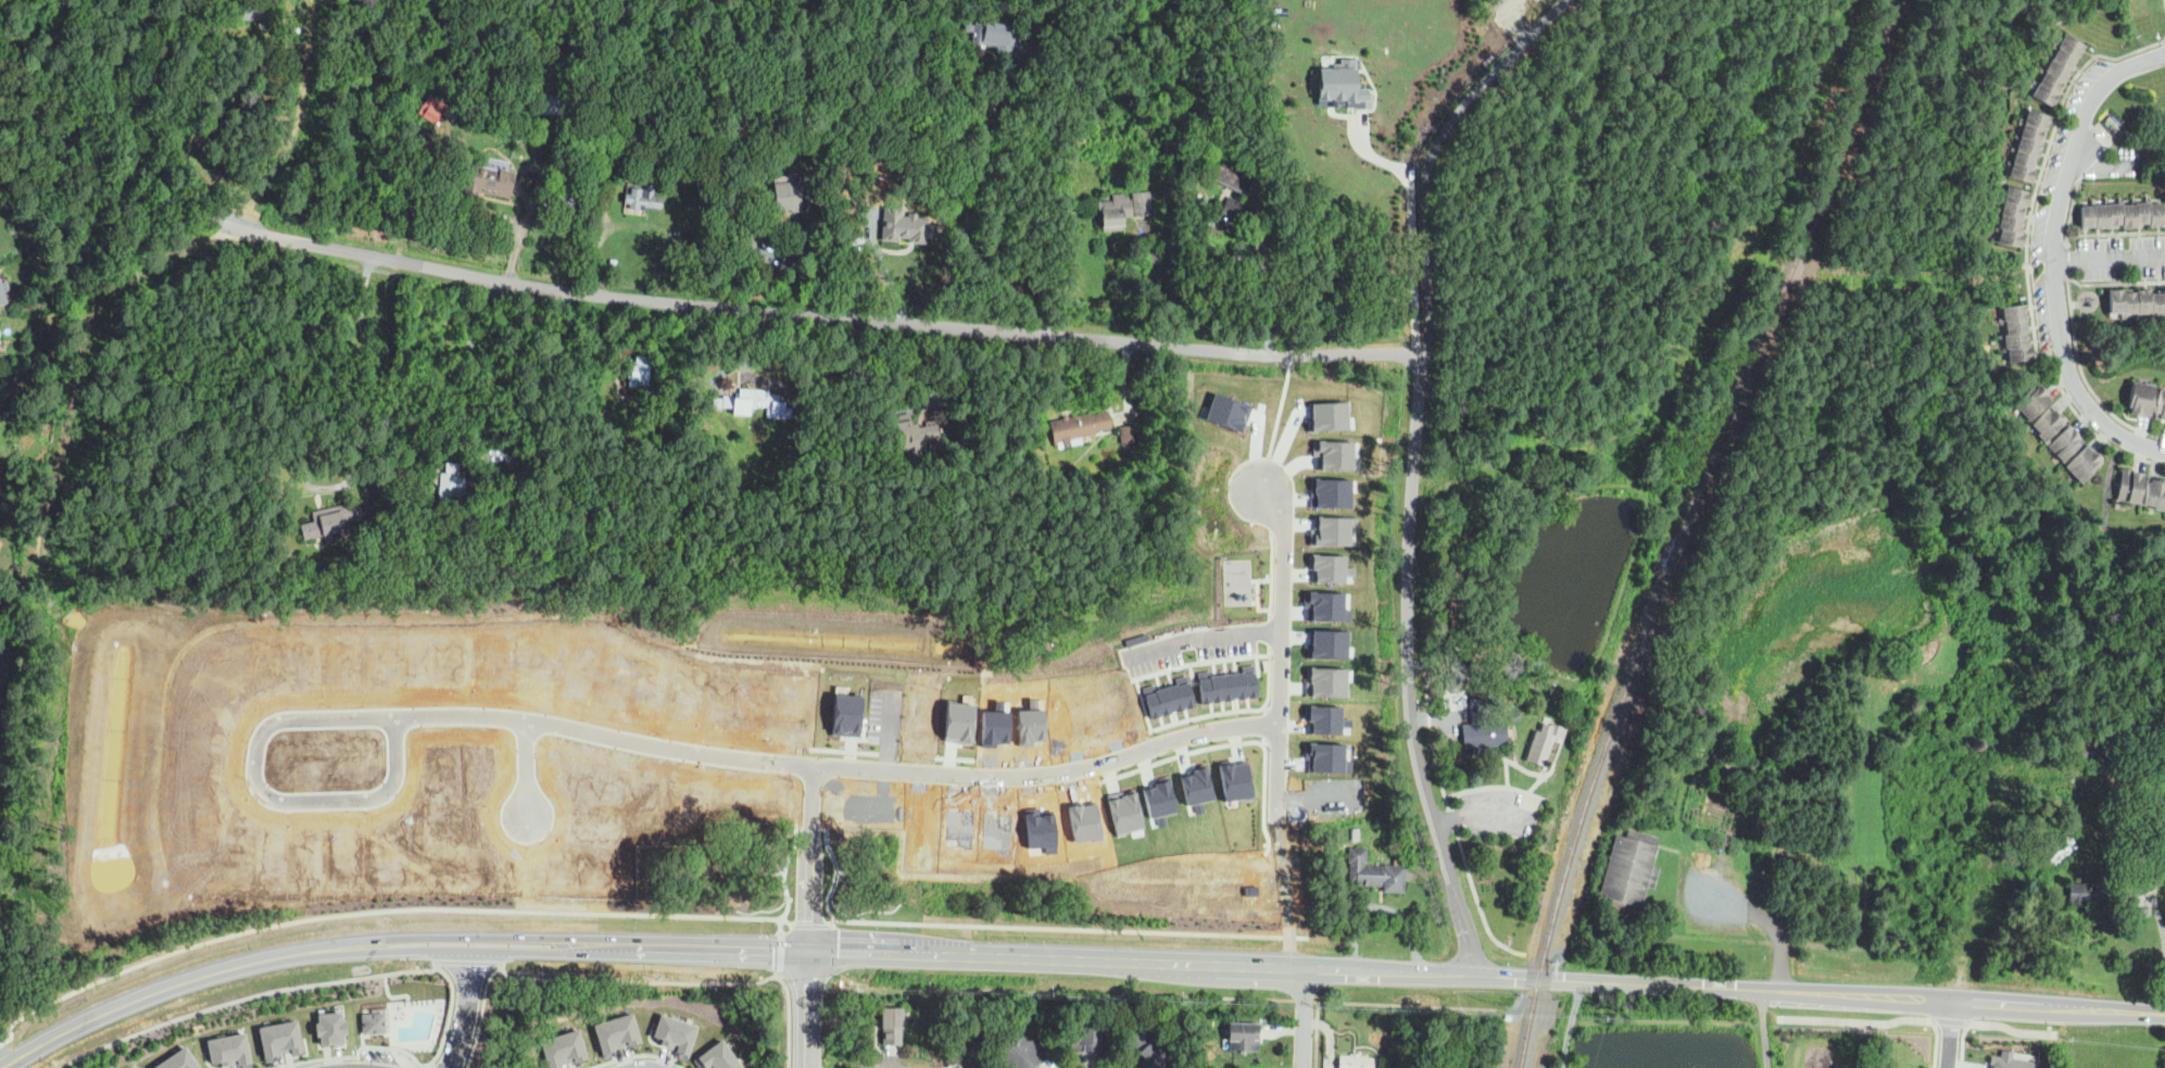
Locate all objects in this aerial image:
building: (255, 10)
building: (993, 36)
road: (2164, 39)
building: (252, 45)
building: (562, 46)
street lamp: (2135, 47)
building: (2056, 67)
building: (269, 71)
road: (1462, 78)
building: (1336, 84)
building: (554, 103)
building: (433, 111)
building: (465, 111)
building: (603, 127)
building: (731, 142)
building: (2027, 145)
road: (219, 153)
building: (629, 153)
road: (1430, 154)
road: (2104, 166)
building: (490, 177)
building: (1232, 177)
street lamp: (2084, 184)
road: (113, 192)
building: (786, 193)
road: (537, 194)
road: (966, 197)
building: (643, 198)
road: (2073, 204)
road: (597, 211)
building: (1230, 214)
building: (1109, 215)
building: (2011, 215)
building: (2123, 215)
building: (563, 221)
road: (1411, 222)
building: (908, 224)
building: (751, 239)
road: (2027, 252)
road: (2056, 252)
road: (2110, 256)
road: (2066, 259)
road: (814, 263)
street lamp: (2130, 267)
road: (1161, 281)
road: (2114, 281)
street lamp: (2027, 290)
building: (2, 296)
road: (1268, 301)
building: (2138, 301)
road: (821, 314)
building: (2016, 332)
building: (639, 370)
road: (482, 373)
road: (2085, 377)
road: (369, 378)
building: (2141, 398)
building: (2031, 401)
building: (758, 403)
building: (2161, 403)
street lamp: (2110, 404)
building: (1230, 409)
building: (1335, 411)
building: (2048, 422)
road: (1277, 423)
building: (1080, 426)
building: (1129, 434)
building: (917, 436)
building: (2065, 442)
building: (37, 452)
building: (1337, 454)
building: (2084, 462)
building: (1543, 463)
road: (1832, 477)
road: (2109, 481)
road: (1452, 482)
building: (451, 483)
building: (2130, 485)
building: (1331, 492)
building: (2155, 492)
building: (331, 520)
railway: (1690, 527)
building: (1330, 530)
building: (1449, 531)
building: (1494, 551)
building: (1326, 567)
building: (1325, 605)
road: (1408, 621)
road: (1199, 634)
building: (1321, 641)
road: (1281, 650)
building: (528, 661)
building: (566, 669)
building: (1219, 678)
building: (1321, 678)
building: (607, 679)
building: (1161, 691)
building: (677, 692)
building: (713, 694)
building: (750, 702)
building: (1093, 705)
building: (838, 707)
building: (912, 709)
building: (1059, 714)
building: (1320, 714)
building: (1514, 716)
building: (952, 717)
building: (989, 720)
building: (1025, 720)
building: (1482, 728)
road: (635, 740)
building: (1543, 745)
building: (1321, 752)
building: (476, 763)
building: (433, 765)
road: (520, 766)
building: (1230, 777)
building: (594, 780)
building: (1191, 783)
street lamp: (1494, 784)
building: (1155, 796)
building: (1120, 811)
road: (1481, 813)
building: (1080, 818)
building: (597, 821)
building: (918, 822)
building: (956, 827)
building: (1035, 827)
building: (991, 828)
street lamp: (1494, 837)
building: (1393, 841)
road: (810, 856)
building: (466, 859)
building: (577, 862)
building: (1895, 867)
building: (1629, 869)
road: (523, 870)
building: (1374, 872)
building: (1247, 888)
building: (2088, 891)
road: (1285, 893)
road: (393, 921)
road: (1770, 926)
road: (1050, 927)
road: (1465, 928)
road: (545, 937)
road: (545, 952)
road: (968, 955)
road: (468, 962)
road: (1217, 964)
road: (1364, 970)
road: (1447, 973)
road: (651, 980)
road: (1817, 993)
road: (1199, 996)
road: (246, 997)
road: (135, 998)
road: (1304, 1000)
road: (1405, 1004)
road: (1534, 1007)
road: (808, 1008)
road: (465, 1009)
road: (480, 1014)
building: (1508, 1017)
road: (790, 1018)
road: (1306, 1018)
road: (1673, 1018)
building: (374, 1020)
road: (1950, 1020)
road: (1855, 1021)
road: (1569, 1023)
building: (330, 1026)
building: (891, 1027)
road: (1762, 1029)
road: (2012, 1029)
building: (618, 1032)
building: (676, 1032)
road: (1317, 1034)
road: (1951, 1034)
building: (280, 1035)
building: (1085, 1038)
building: (1243, 1038)
building: (1149, 1047)
building: (564, 1048)
road: (402, 1050)
building: (228, 1051)
building: (1021, 1052)
road: (634, 1055)
parking lot: (387, 1056)
building: (721, 1056)
building: (178, 1060)
building: (2009, 1060)
road: (415, 1061)
building: (1355, 1061)
road: (430, 1065)
road: (873, 1065)
road: (413, 1066)
road: (433, 1067)
road: (643, 1067)

